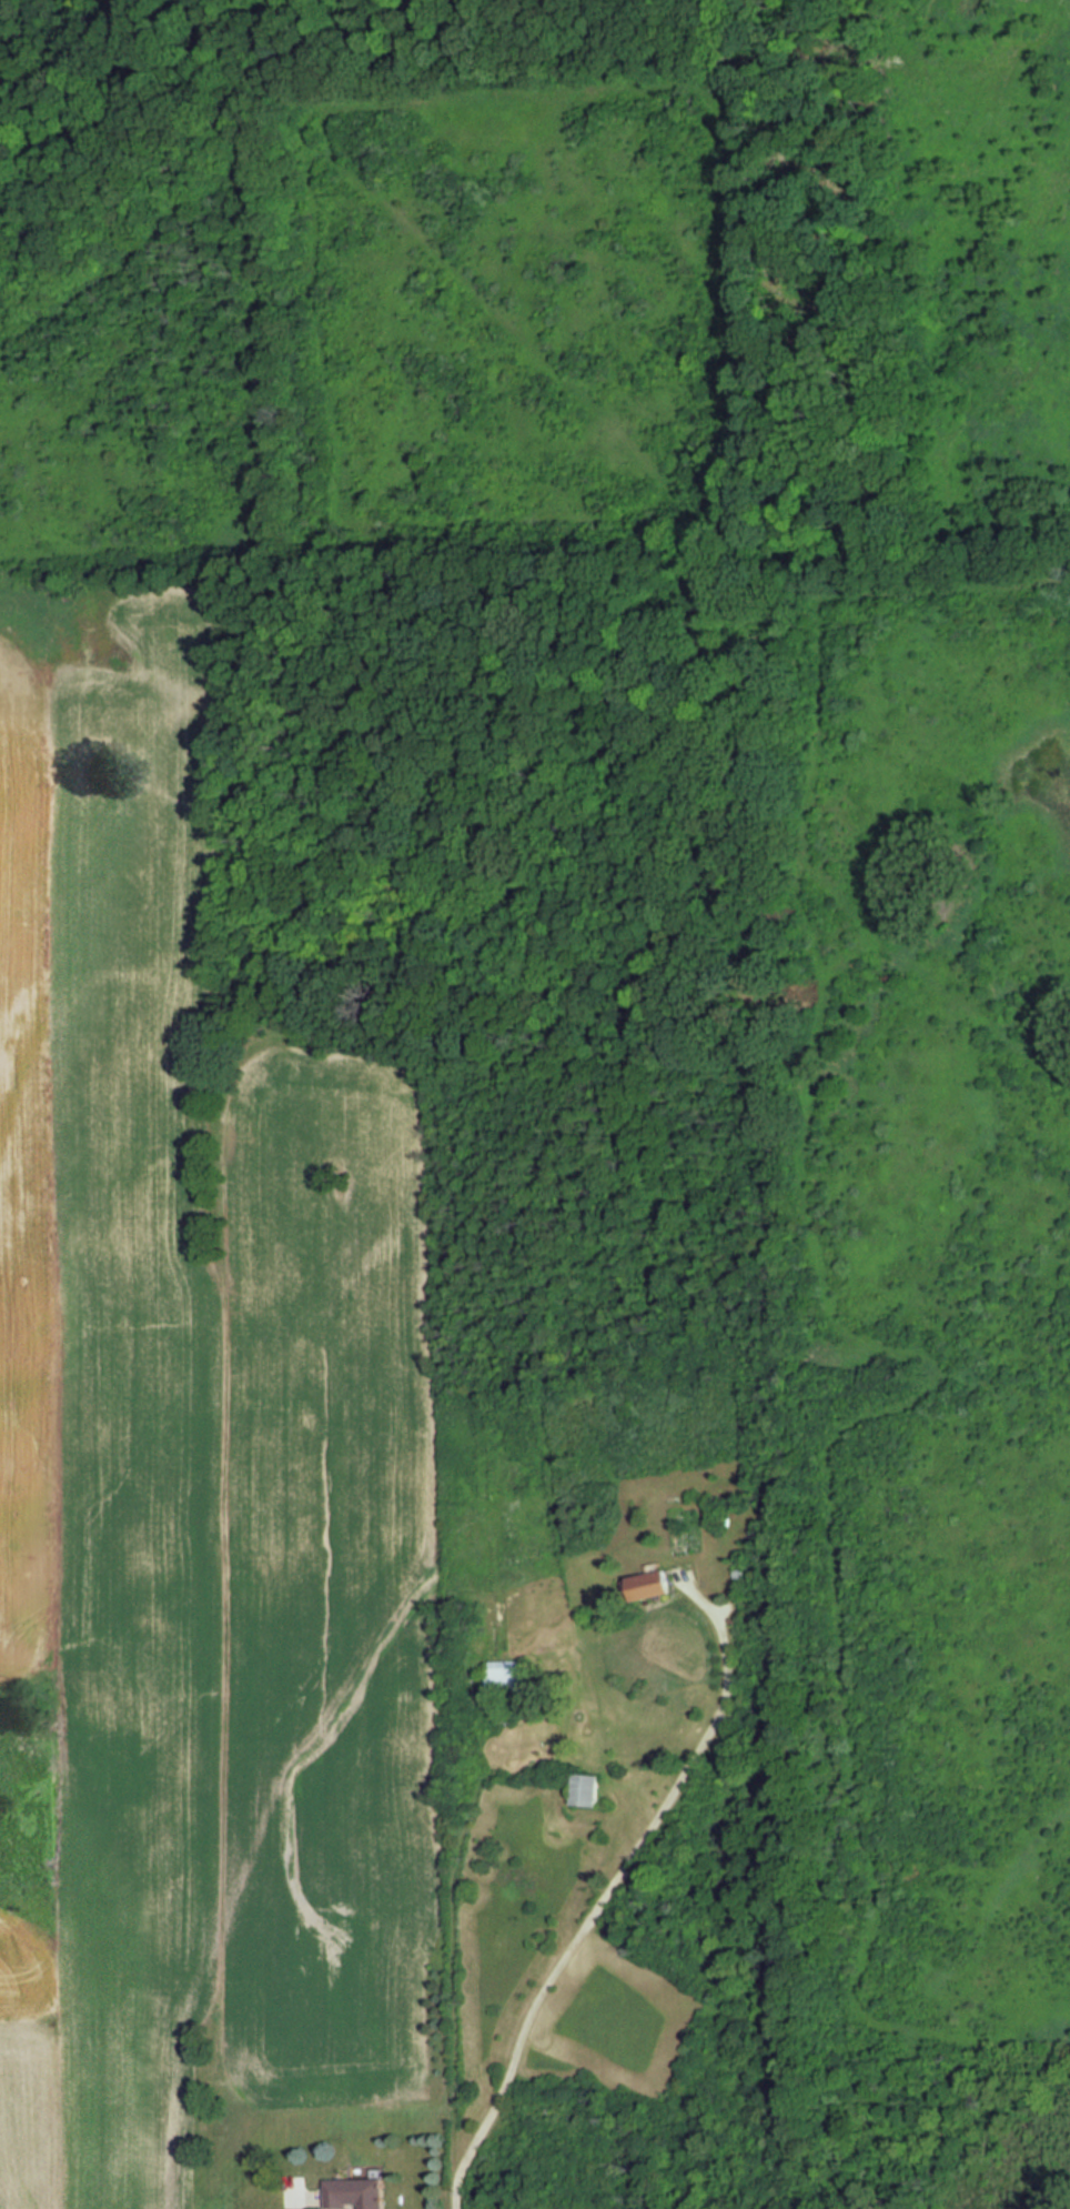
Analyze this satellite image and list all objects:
building: (647, 1586)
building: (506, 1677)
building: (586, 1789)
road: (604, 1894)
building: (357, 2192)

